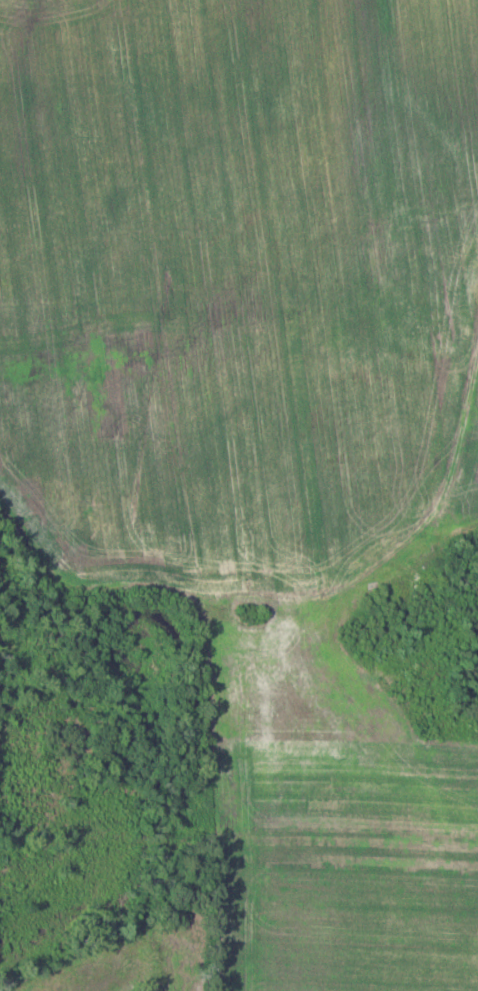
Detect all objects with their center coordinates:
park: (251, 607)

